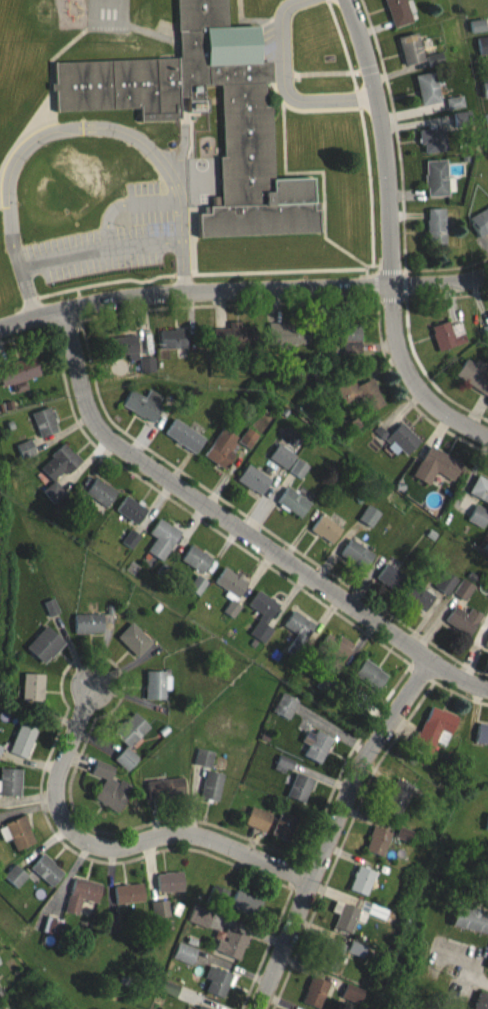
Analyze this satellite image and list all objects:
building: (399, 12)
road: (240, 20)
building: (478, 26)
road: (153, 32)
building: (482, 45)
building: (409, 49)
building: (434, 60)
road: (379, 64)
road: (368, 67)
road: (315, 72)
road: (285, 89)
building: (426, 89)
building: (483, 90)
road: (52, 103)
building: (454, 103)
road: (298, 108)
building: (245, 119)
building: (461, 119)
building: (485, 119)
road: (77, 128)
building: (486, 136)
building: (431, 139)
building: (465, 159)
road: (321, 175)
road: (401, 175)
building: (437, 179)
road: (316, 203)
road: (126, 204)
building: (479, 222)
building: (434, 228)
road: (390, 236)
parking lot: (109, 240)
road: (99, 249)
road: (376, 264)
road: (334, 268)
road: (380, 269)
road: (390, 269)
road: (402, 269)
road: (366, 271)
road: (404, 271)
road: (375, 272)
road: (404, 283)
road: (242, 290)
road: (406, 296)
building: (487, 313)
building: (487, 315)
building: (485, 332)
road: (408, 334)
building: (447, 335)
building: (290, 336)
building: (175, 338)
building: (236, 338)
building: (351, 338)
building: (127, 346)
building: (149, 365)
building: (322, 368)
building: (18, 371)
building: (472, 377)
building: (362, 392)
building: (8, 404)
building: (145, 405)
building: (1, 408)
building: (47, 422)
building: (358, 423)
building: (10, 425)
building: (379, 431)
building: (187, 436)
building: (250, 438)
building: (400, 440)
building: (26, 449)
building: (224, 449)
building: (284, 456)
building: (63, 462)
building: (439, 466)
building: (301, 468)
building: (255, 479)
building: (402, 487)
building: (481, 488)
building: (56, 492)
building: (102, 492)
building: (418, 493)
building: (361, 500)
building: (295, 502)
building: (134, 510)
building: (367, 515)
building: (479, 516)
road: (239, 529)
building: (328, 529)
building: (433, 535)
building: (132, 539)
building: (165, 539)
building: (485, 547)
building: (359, 554)
building: (197, 559)
building: (164, 569)
building: (473, 577)
building: (394, 579)
building: (448, 583)
building: (197, 585)
building: (233, 590)
building: (466, 590)
building: (421, 597)
building: (53, 607)
building: (159, 608)
building: (111, 610)
building: (265, 615)
building: (467, 620)
building: (90, 623)
building: (300, 634)
building: (136, 640)
building: (252, 643)
building: (46, 645)
building: (486, 646)
building: (336, 651)
building: (373, 674)
building: (159, 684)
building: (328, 684)
building: (34, 687)
building: (360, 698)
building: (288, 706)
building: (133, 729)
building: (163, 730)
building: (437, 730)
building: (483, 734)
building: (265, 737)
building: (23, 738)
building: (315, 745)
building: (0, 748)
building: (400, 751)
building: (128, 759)
building: (206, 759)
building: (286, 764)
building: (9, 782)
building: (215, 786)
building: (112, 787)
building: (168, 788)
building: (302, 788)
building: (399, 798)
building: (260, 819)
building: (287, 827)
building: (487, 828)
road: (333, 829)
building: (19, 832)
building: (404, 834)
building: (379, 841)
road: (115, 846)
building: (382, 869)
building: (48, 870)
building: (16, 876)
building: (363, 880)
building: (172, 882)
building: (130, 893)
building: (83, 895)
building: (220, 896)
building: (249, 903)
building: (162, 909)
building: (179, 909)
building: (353, 913)
building: (203, 916)
building: (472, 919)
building: (115, 923)
building: (54, 925)
building: (218, 934)
building: (193, 941)
building: (234, 944)
building: (59, 945)
building: (358, 949)
building: (187, 954)
building: (333, 954)
building: (1, 962)
building: (487, 968)
building: (126, 981)
building: (221, 981)
building: (172, 988)
building: (0, 989)
building: (317, 992)
building: (354, 993)
building: (483, 1001)
building: (204, 1007)
building: (198, 1008)

